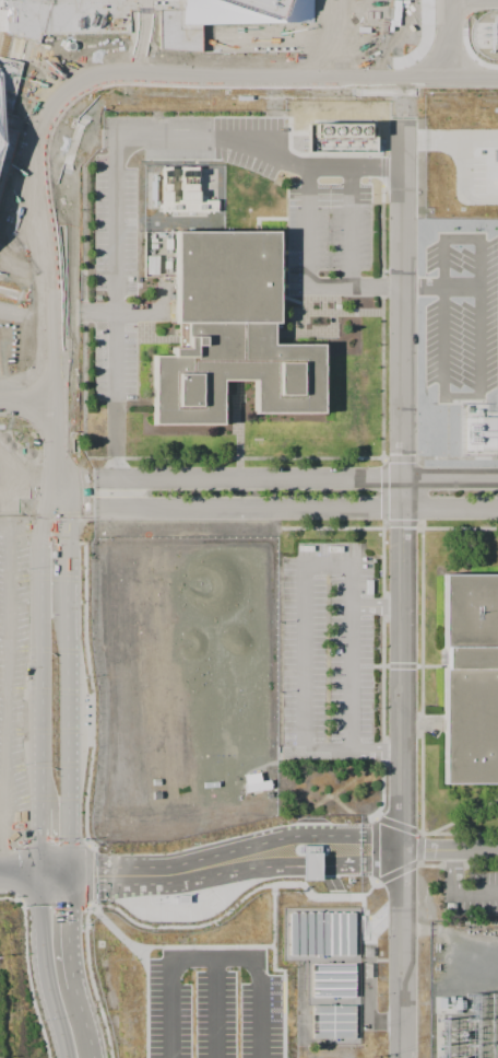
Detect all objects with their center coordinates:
building: (245, 13)
building: (58, 19)
road: (448, 38)
road: (79, 82)
building: (340, 129)
road: (260, 152)
road: (308, 226)
road: (352, 226)
road: (117, 311)
building: (237, 337)
road: (29, 384)
road: (478, 394)
road: (27, 399)
parking lot: (10, 465)
road: (307, 480)
road: (292, 510)
road: (402, 588)
road: (305, 591)
road: (376, 606)
parking lot: (328, 652)
road: (40, 678)
road: (67, 679)
building: (473, 679)
building: (254, 782)
road: (289, 840)
building: (309, 848)
road: (428, 849)
road: (356, 850)
road: (349, 851)
building: (310, 865)
road: (310, 865)
road: (403, 868)
road: (20, 873)
traffic signals: (40, 873)
road: (87, 873)
traffic signals: (67, 874)
road: (161, 874)
parking lot: (332, 883)
road: (363, 894)
building: (182, 898)
road: (182, 911)
road: (154, 926)
road: (115, 930)
building: (323, 933)
road: (153, 945)
road: (213, 958)
road: (43, 966)
road: (71, 967)
road: (281, 968)
building: (333, 980)
power substation: (466, 991)
parking lot: (214, 1004)
road: (215, 1008)
building: (333, 1021)

